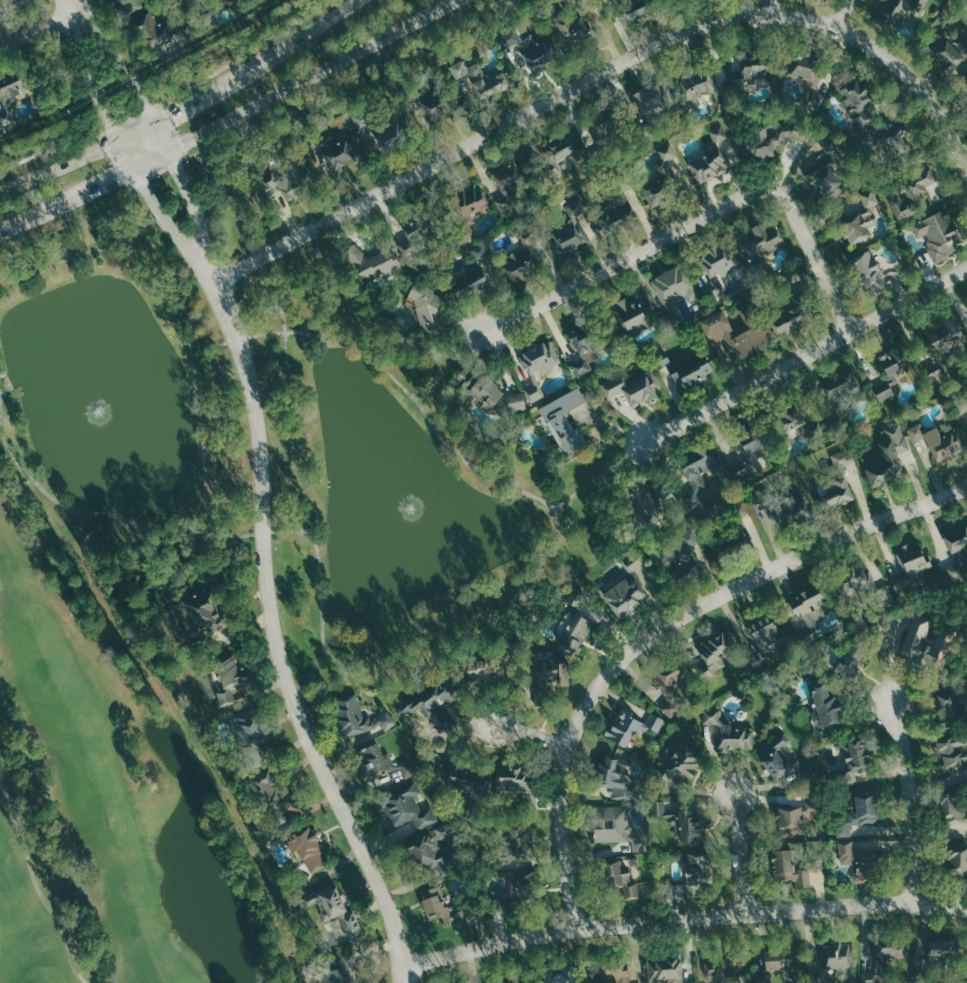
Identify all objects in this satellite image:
building: (809, 0)
building: (13, 2)
building: (192, 2)
building: (227, 4)
building: (126, 6)
building: (637, 6)
road: (71, 9)
building: (889, 13)
road: (843, 14)
building: (574, 27)
building: (157, 29)
road: (38, 30)
building: (531, 46)
building: (947, 51)
road: (247, 53)
building: (753, 66)
road: (605, 71)
road: (134, 74)
building: (481, 77)
building: (805, 77)
building: (699, 84)
road: (347, 85)
building: (964, 85)
building: (13, 94)
building: (853, 95)
road: (95, 96)
building: (433, 96)
road: (183, 105)
building: (653, 106)
road: (149, 108)
road: (130, 118)
road: (228, 118)
traffic signals: (158, 120)
road: (110, 127)
building: (383, 127)
building: (604, 127)
road: (173, 129)
building: (770, 136)
building: (887, 139)
traffic signals: (119, 140)
traffic signals: (172, 148)
building: (334, 148)
road: (49, 150)
road: (220, 151)
building: (557, 153)
building: (710, 157)
road: (113, 160)
traffic signals: (135, 168)
building: (827, 169)
road: (158, 172)
building: (662, 177)
building: (283, 179)
building: (506, 182)
building: (910, 191)
road: (230, 203)
building: (618, 206)
building: (468, 207)
road: (196, 214)
building: (859, 217)
road: (699, 219)
road: (66, 224)
building: (416, 225)
road: (117, 226)
road: (171, 227)
building: (569, 228)
building: (937, 233)
building: (765, 238)
building: (521, 255)
building: (721, 260)
building: (373, 261)
building: (867, 271)
building: (471, 275)
building: (674, 286)
building: (429, 308)
building: (792, 314)
building: (631, 315)
building: (733, 330)
building: (941, 337)
building: (585, 343)
road: (805, 353)
building: (894, 357)
road: (447, 363)
building: (538, 365)
building: (683, 366)
building: (841, 385)
building: (632, 386)
building: (488, 392)
fountain: (109, 393)
road: (297, 393)
road: (0, 403)
building: (786, 417)
building: (564, 421)
road: (202, 438)
building: (751, 440)
building: (945, 442)
building: (843, 458)
building: (883, 464)
road: (599, 475)
building: (698, 476)
building: (833, 490)
building: (644, 501)
building: (790, 508)
building: (741, 509)
fountain: (419, 518)
building: (725, 537)
building: (686, 550)
road: (540, 558)
building: (683, 568)
building: (866, 584)
building: (626, 589)
building: (808, 607)
building: (205, 614)
building: (573, 623)
road: (661, 629)
building: (765, 631)
road: (274, 641)
building: (924, 642)
building: (716, 651)
building: (490, 662)
building: (849, 663)
building: (228, 674)
road: (313, 674)
building: (549, 674)
building: (672, 691)
building: (432, 700)
building: (949, 702)
building: (825, 709)
building: (360, 716)
building: (633, 725)
building: (729, 732)
building: (249, 733)
road: (532, 735)
building: (777, 757)
building: (380, 761)
building: (855, 761)
building: (681, 765)
building: (618, 776)
building: (952, 776)
building: (511, 781)
building: (269, 795)
road: (915, 801)
park: (111, 802)
building: (405, 805)
building: (860, 812)
building: (793, 817)
building: (681, 822)
building: (614, 825)
road: (58, 835)
building: (515, 844)
building: (309, 849)
building: (435, 855)
road: (742, 855)
building: (861, 859)
building: (958, 862)
building: (789, 869)
building: (695, 871)
building: (626, 877)
road: (35, 885)
building: (518, 885)
building: (332, 906)
building: (441, 907)
road: (684, 920)
building: (942, 951)
building: (895, 952)
building: (841, 959)
building: (777, 960)
building: (724, 968)
building: (666, 970)
building: (333, 971)
building: (614, 974)
building: (871, 977)
building: (763, 978)
building: (513, 981)

